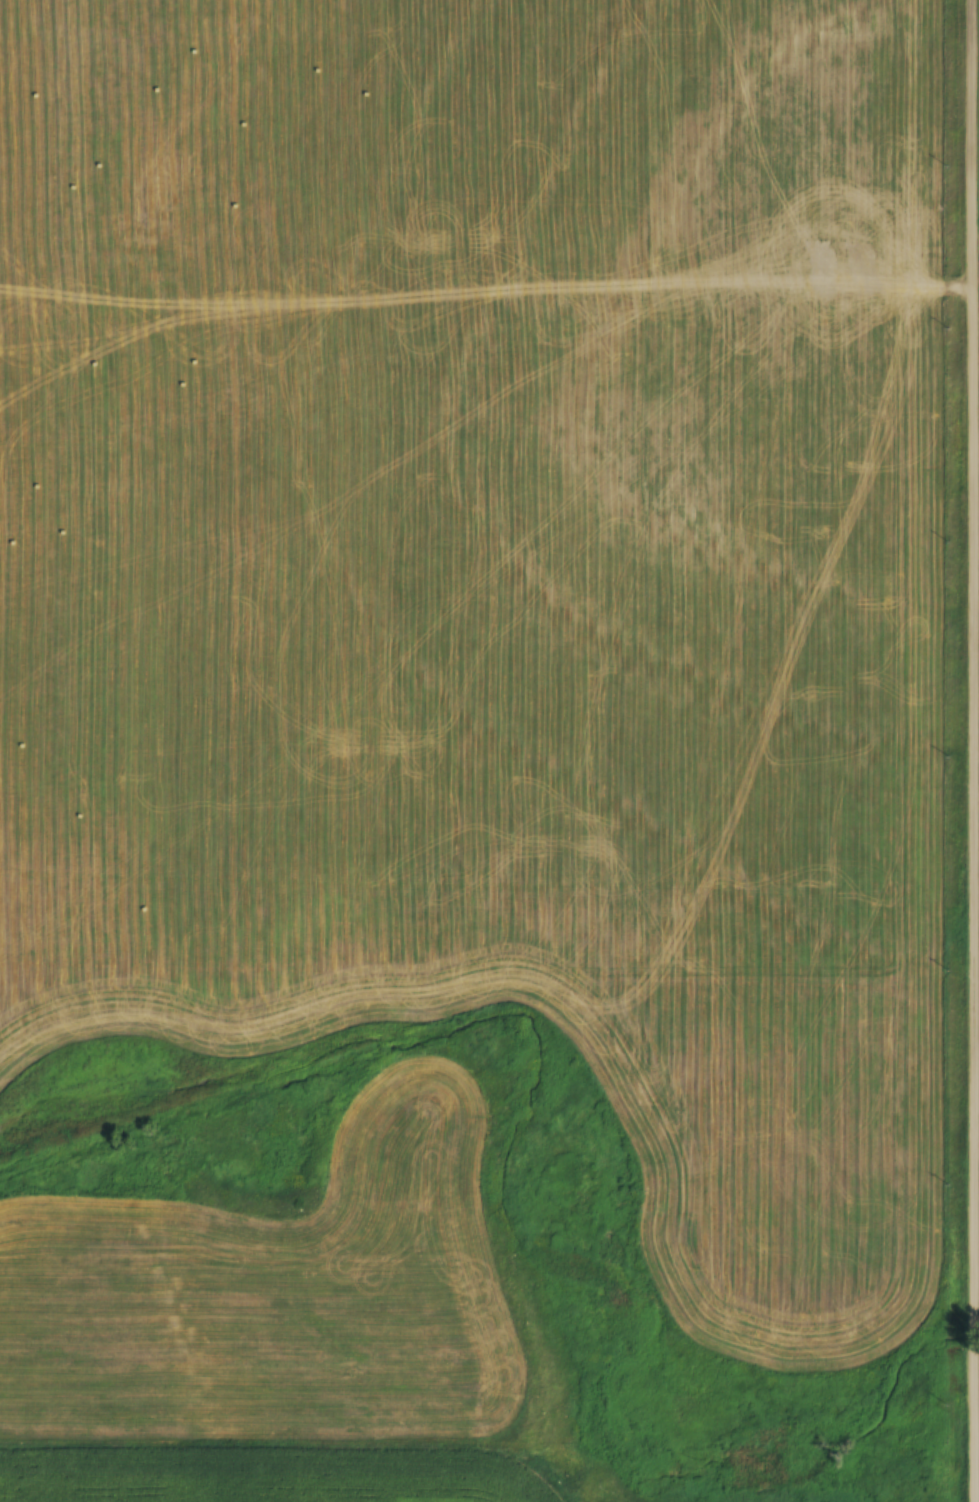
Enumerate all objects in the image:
road: (975, 750)

